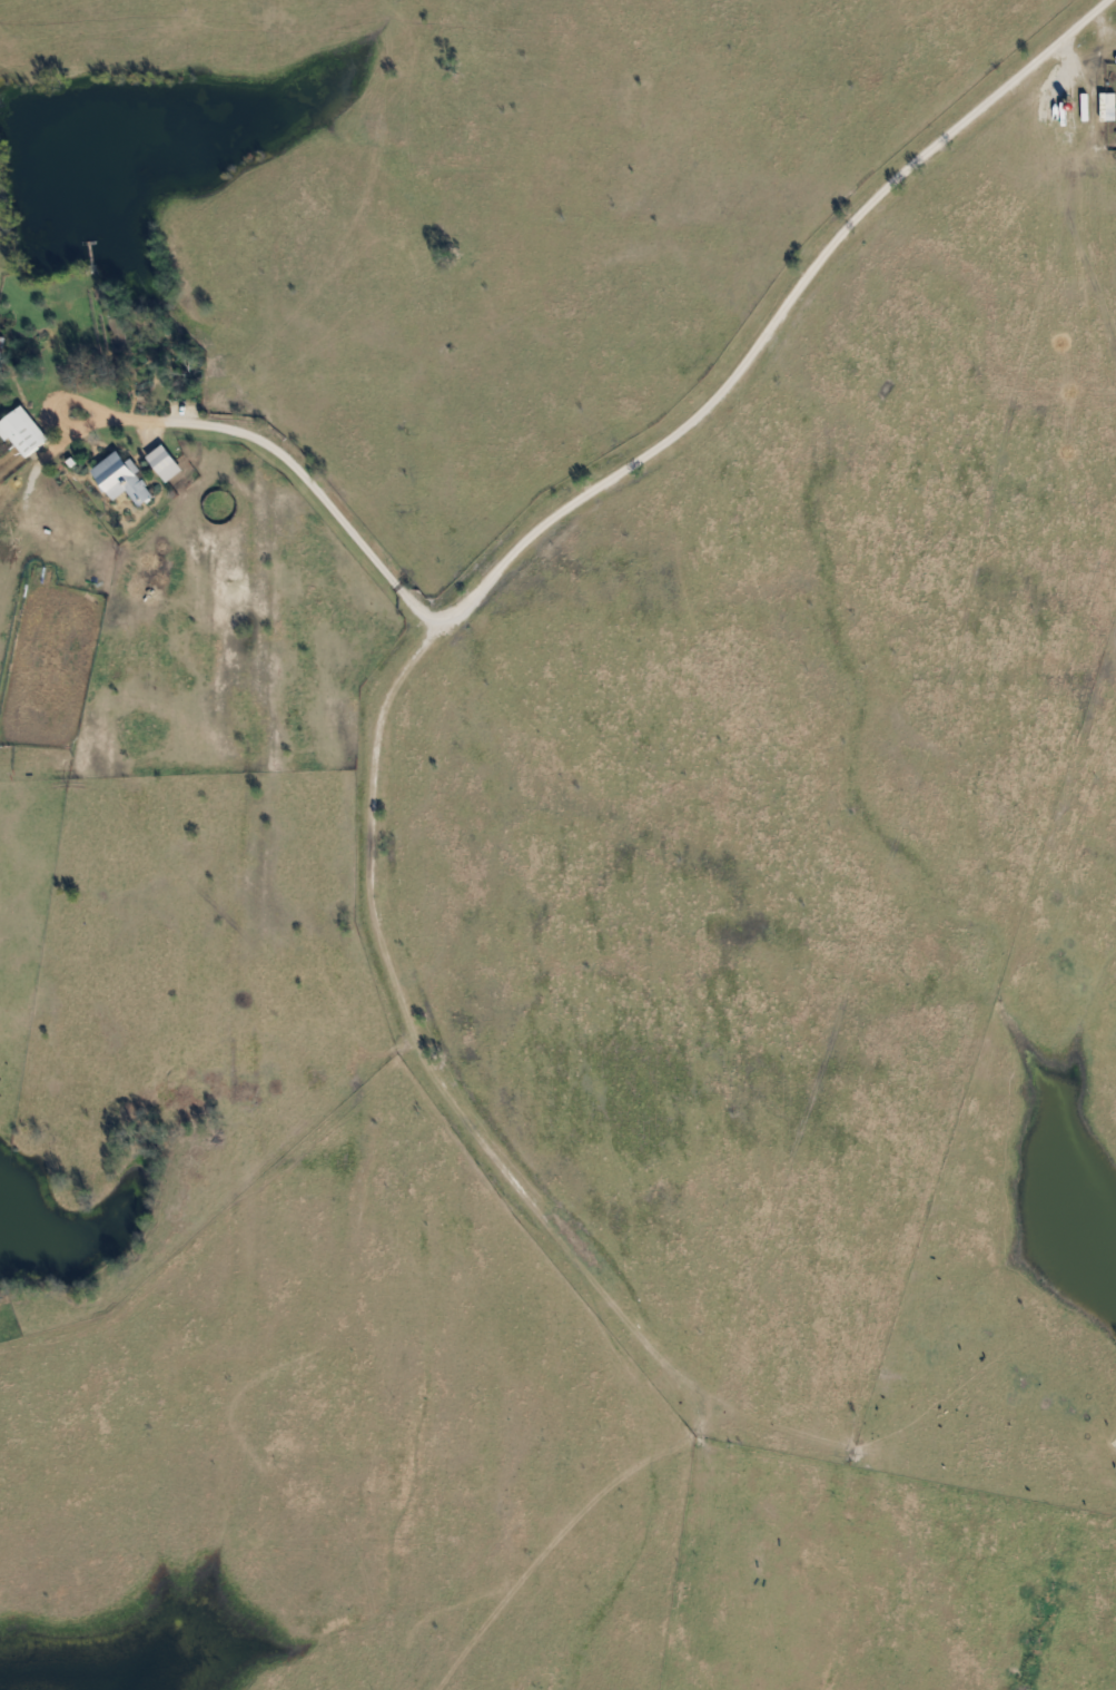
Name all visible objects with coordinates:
building: (1105, 106)
building: (1, 343)
building: (20, 431)
building: (161, 462)
road: (619, 470)
building: (118, 479)

